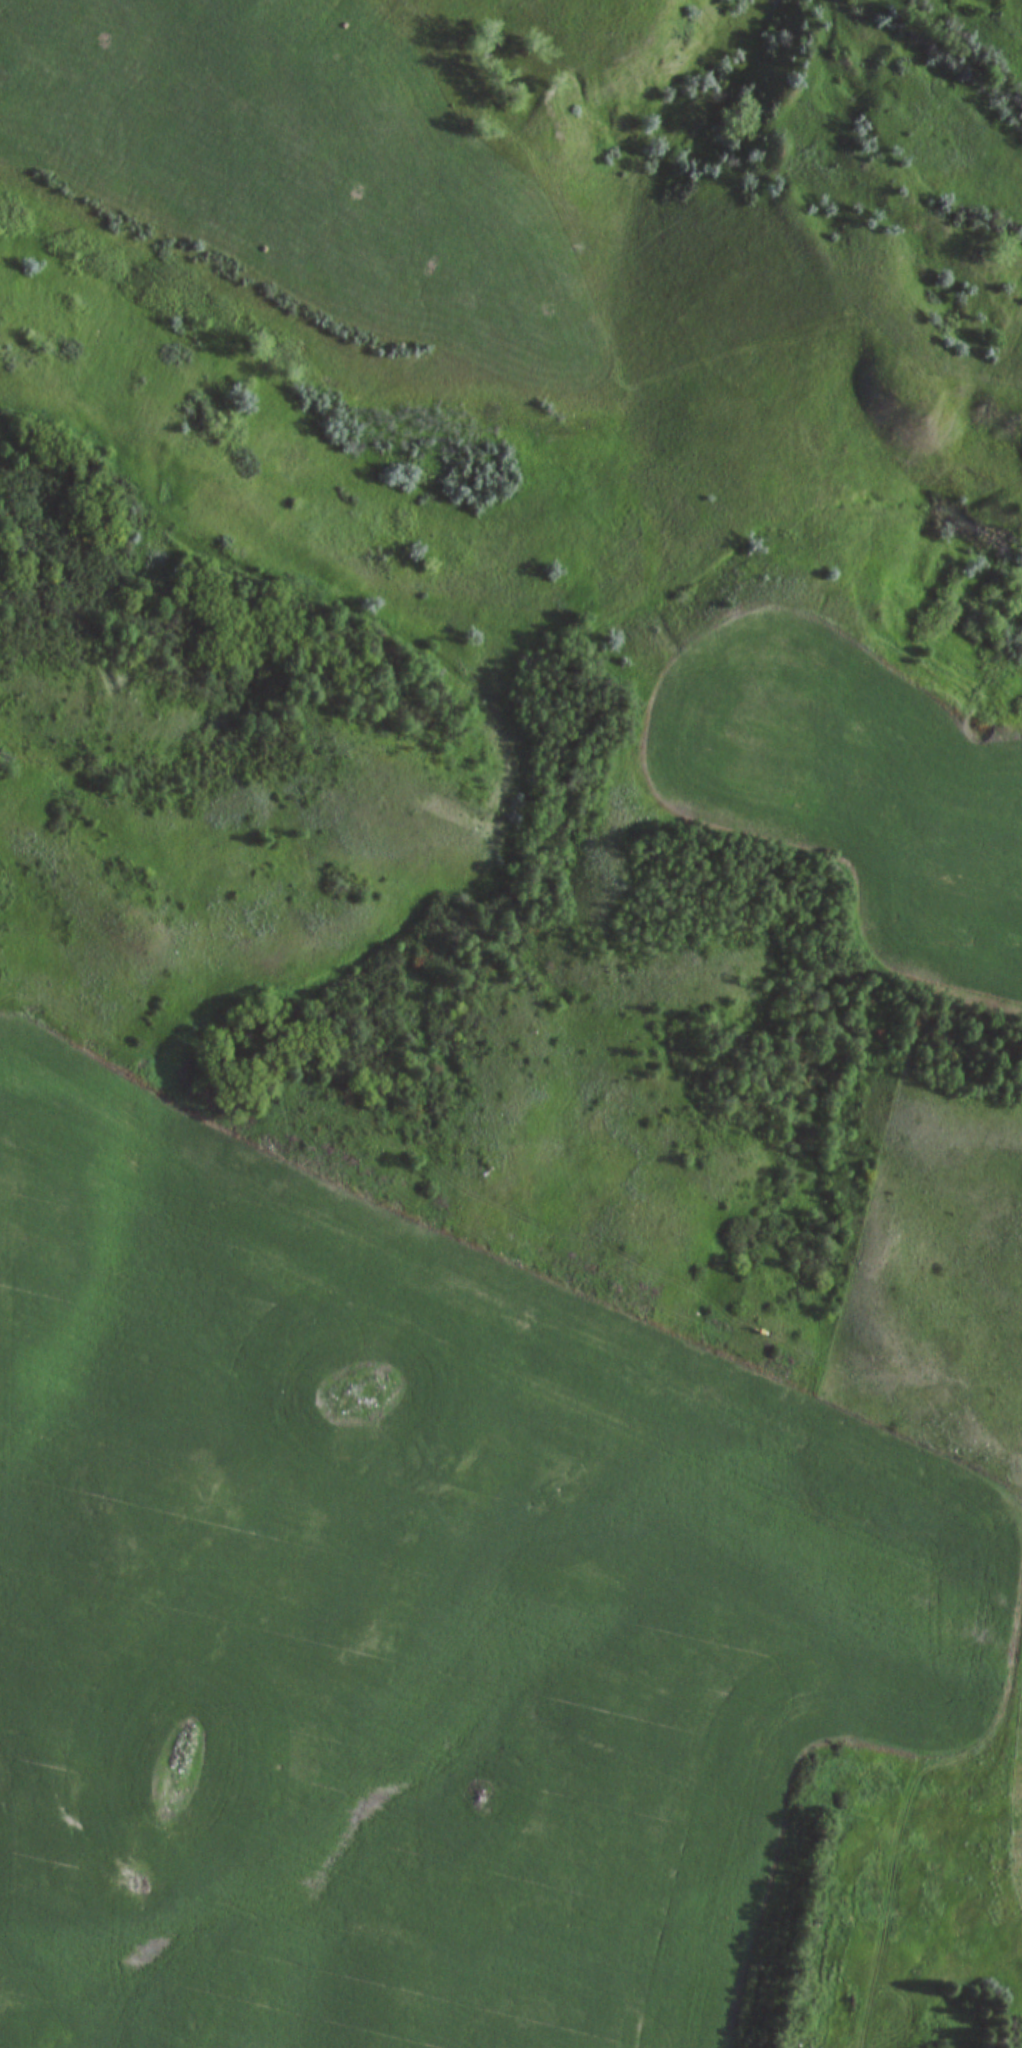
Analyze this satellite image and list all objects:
road: (737, 46)
quarry: (762, 161)
road: (895, 1946)

